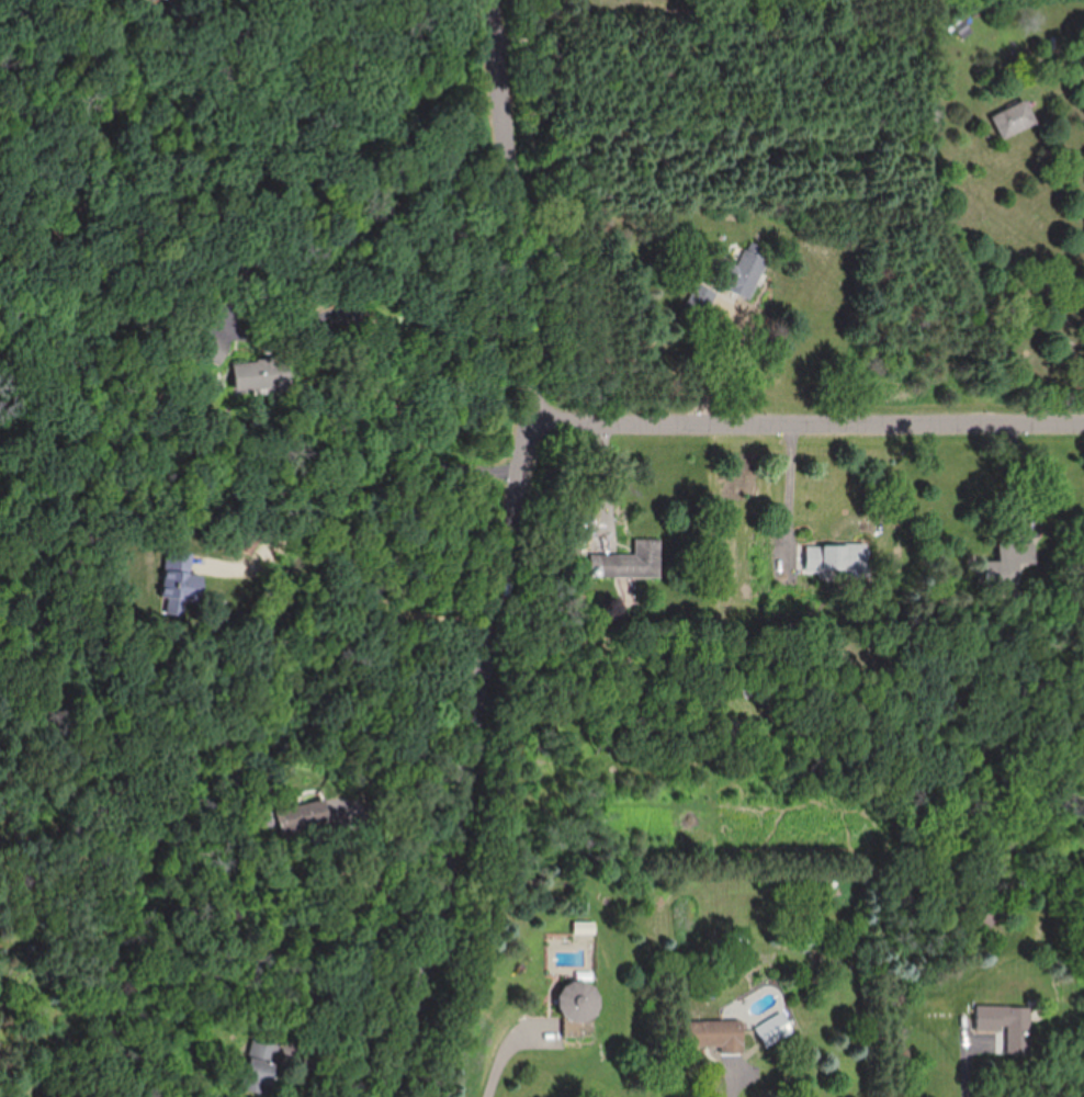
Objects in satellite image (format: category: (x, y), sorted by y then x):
building: (960, 26)
road: (531, 33)
building: (1015, 120)
building: (744, 272)
building: (703, 297)
road: (704, 336)
building: (215, 349)
building: (261, 374)
road: (392, 417)
road: (808, 421)
road: (600, 475)
road: (790, 482)
road: (507, 554)
building: (839, 559)
building: (631, 562)
building: (1013, 563)
road: (363, 575)
building: (180, 584)
building: (304, 817)
road: (399, 836)
building: (584, 929)
building: (577, 1008)
building: (1008, 1027)
building: (774, 1031)
building: (718, 1038)
road: (503, 1056)
road: (969, 1058)
building: (256, 1076)
road: (737, 1077)

